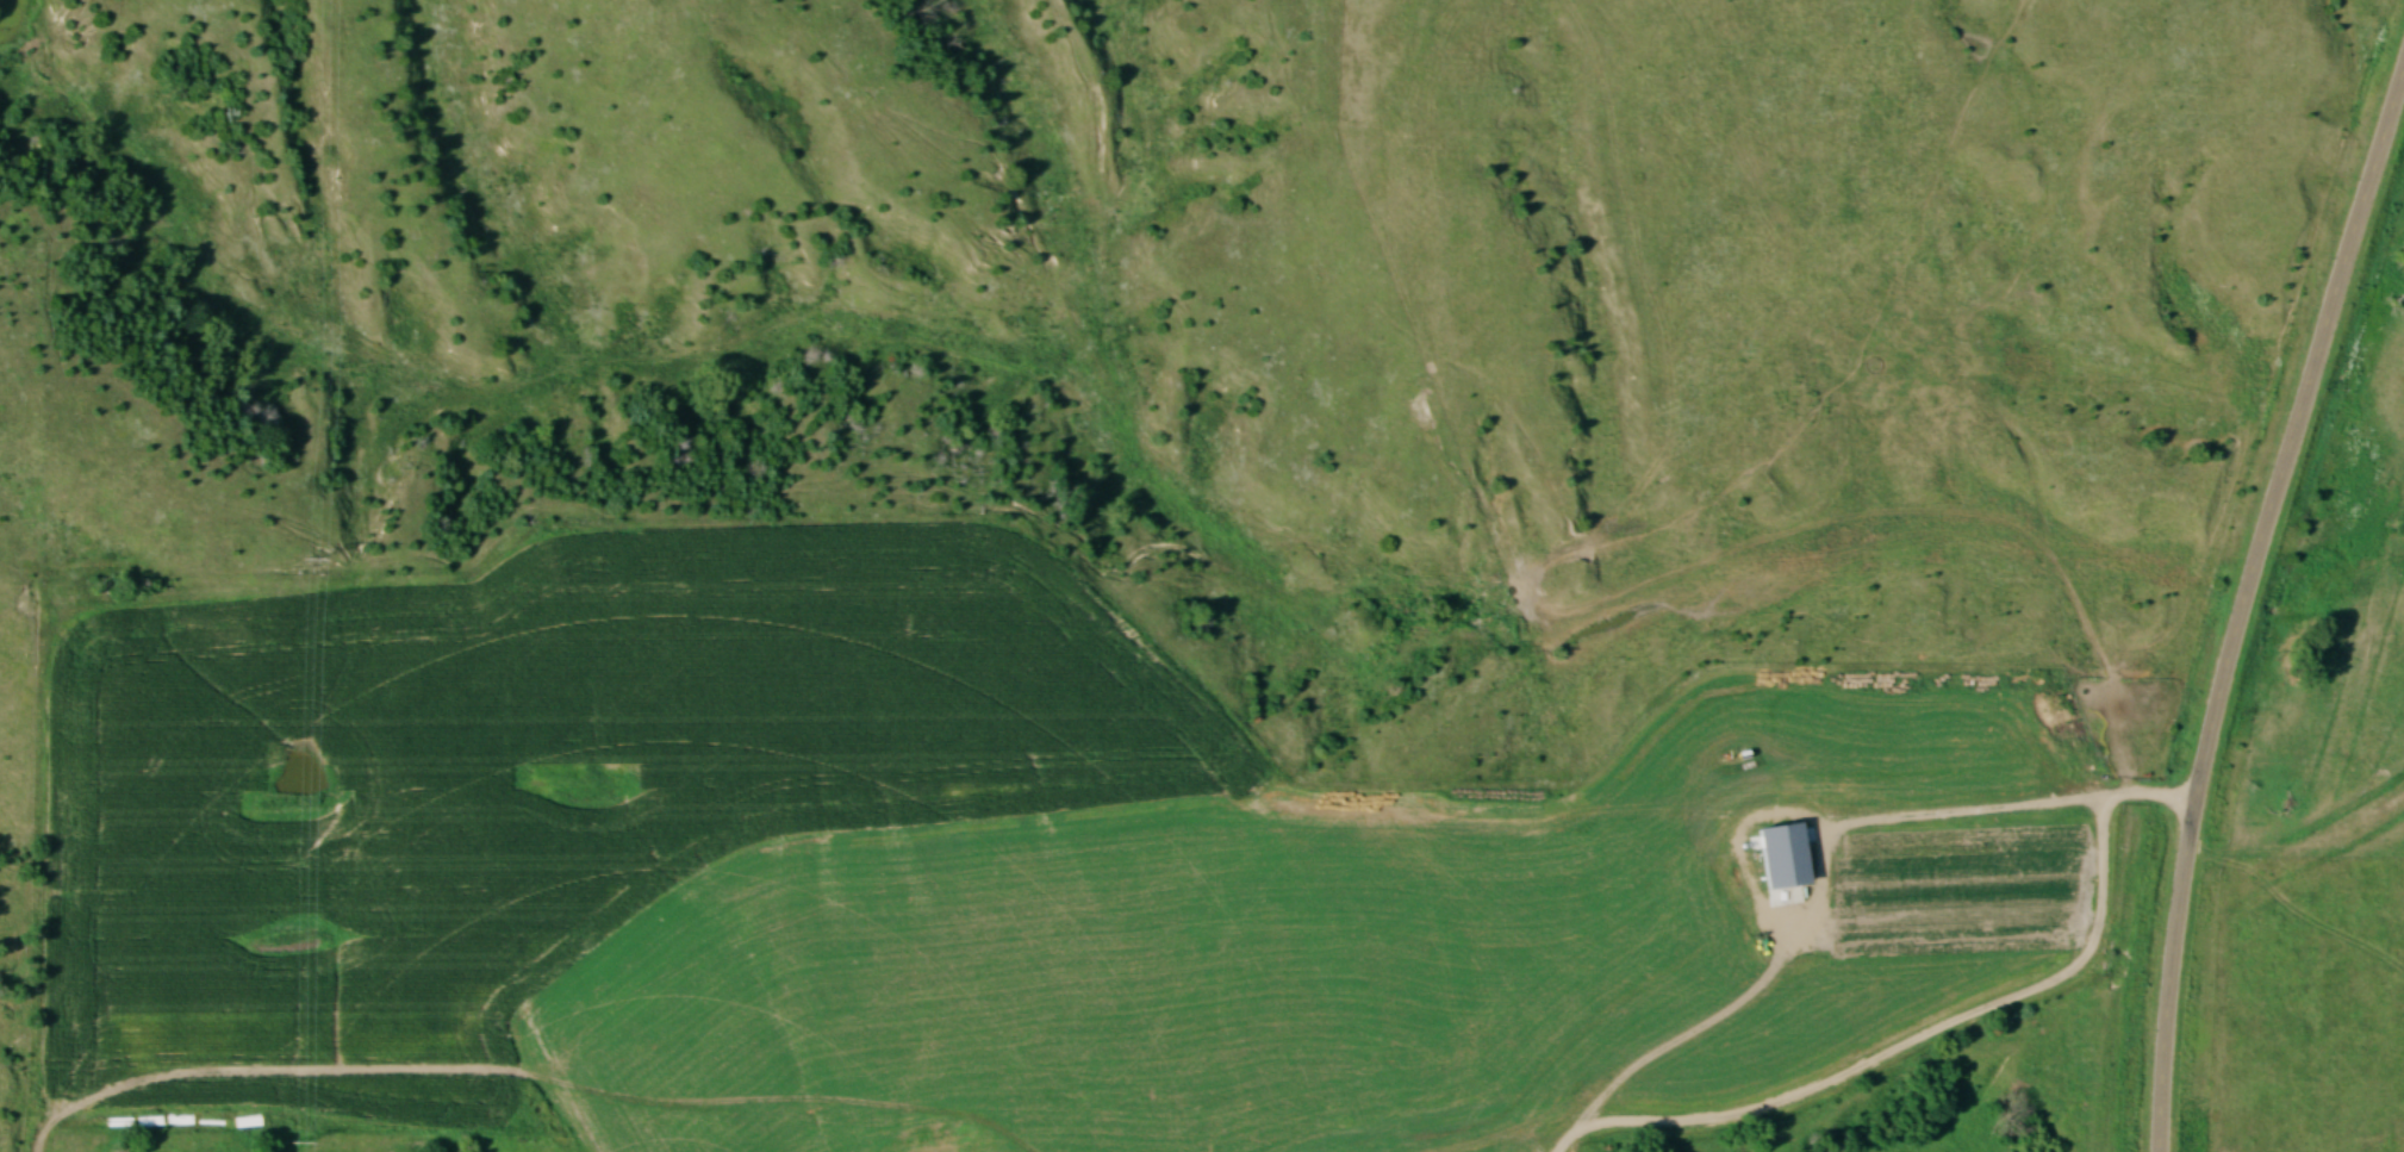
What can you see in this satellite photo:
power tower: (309, 562)
road: (2241, 600)
power tower: (294, 1146)

